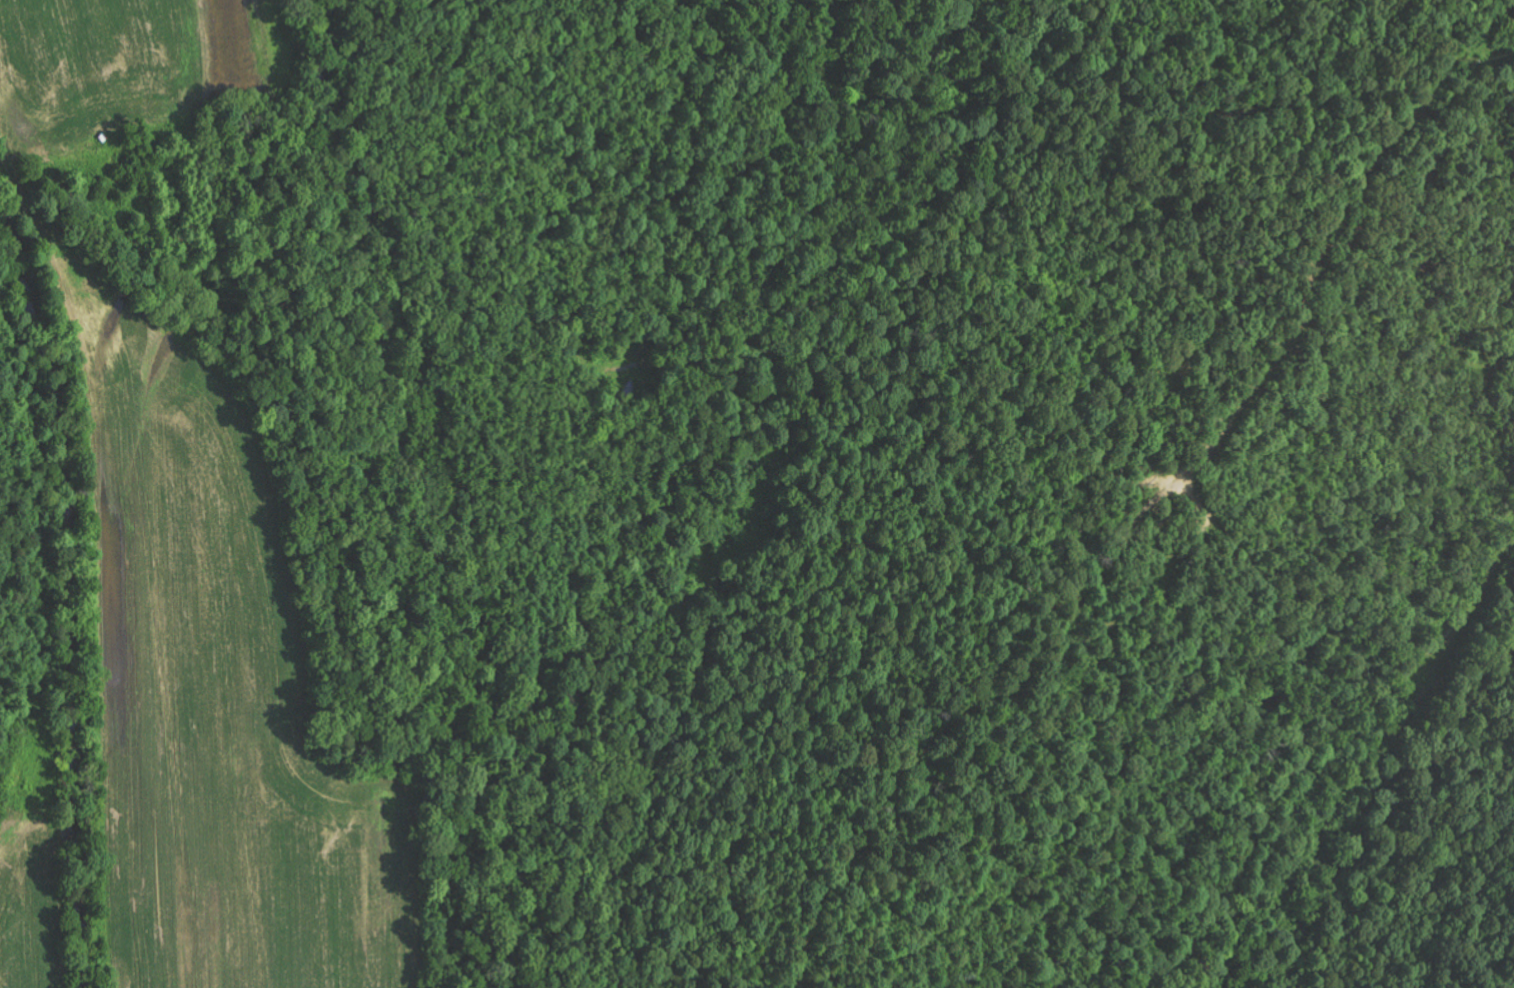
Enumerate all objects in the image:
road: (822, 8)

